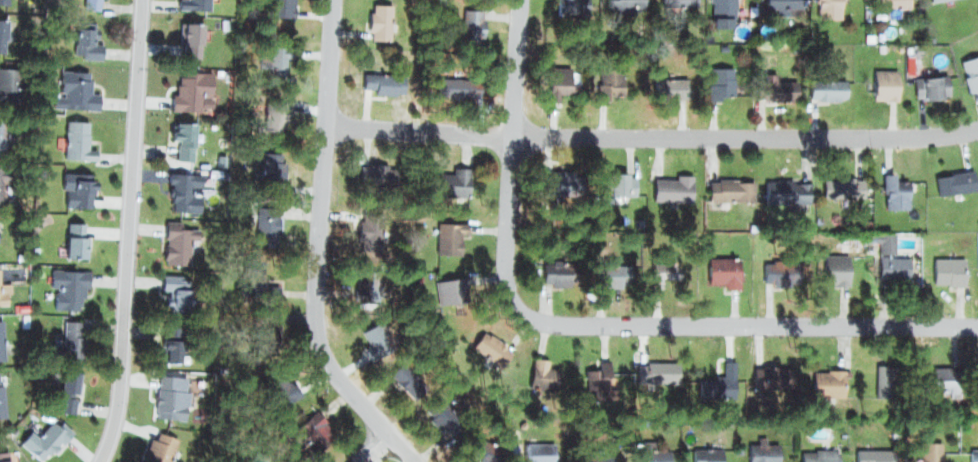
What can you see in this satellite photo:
building: (932, 0)
building: (4, 1)
building: (780, 1)
building: (887, 2)
building: (91, 3)
building: (679, 3)
building: (572, 4)
building: (626, 4)
building: (193, 5)
building: (277, 6)
building: (824, 7)
building: (726, 8)
building: (379, 17)
building: (471, 26)
building: (4, 33)
building: (191, 40)
building: (87, 47)
building: (272, 57)
building: (966, 63)
building: (609, 65)
building: (563, 66)
building: (381, 74)
building: (719, 75)
building: (769, 77)
building: (455, 79)
building: (884, 80)
building: (674, 81)
building: (824, 81)
building: (384, 84)
building: (612, 84)
building: (6, 85)
building: (934, 85)
building: (459, 88)
building: (189, 89)
building: (829, 90)
building: (80, 91)
building: (778, 91)
building: (274, 113)
building: (0, 126)
road: (653, 137)
building: (78, 141)
building: (185, 141)
building: (0, 173)
building: (270, 173)
building: (374, 174)
building: (557, 174)
building: (621, 176)
building: (668, 179)
building: (951, 180)
building: (723, 181)
building: (456, 183)
building: (565, 183)
building: (783, 185)
building: (844, 186)
building: (891, 189)
building: (77, 190)
building: (185, 190)
building: (732, 192)
building: (267, 224)
building: (369, 226)
road: (128, 232)
building: (453, 236)
building: (82, 239)
building: (179, 242)
road: (320, 248)
building: (889, 253)
building: (673, 258)
building: (833, 258)
building: (724, 259)
building: (783, 262)
building: (948, 262)
building: (555, 263)
building: (613, 263)
building: (663, 268)
building: (837, 271)
building: (561, 274)
building: (613, 277)
building: (257, 279)
building: (365, 285)
building: (450, 289)
building: (70, 291)
building: (176, 294)
building: (4, 295)
building: (269, 324)
road: (592, 324)
building: (68, 341)
building: (374, 342)
building: (174, 343)
building: (1, 344)
building: (490, 346)
building: (659, 372)
building: (596, 378)
building: (543, 379)
building: (404, 380)
building: (947, 380)
building: (771, 381)
building: (828, 381)
building: (884, 381)
building: (973, 382)
building: (719, 384)
building: (278, 386)
building: (72, 393)
building: (1, 397)
building: (172, 400)
building: (442, 416)
building: (312, 428)
building: (43, 440)
building: (164, 447)
road: (372, 448)
building: (482, 449)
building: (763, 449)
building: (540, 452)
building: (930, 453)
building: (597, 454)
building: (709, 454)
building: (652, 455)
building: (874, 455)
building: (974, 455)
building: (264, 456)
building: (822, 456)
building: (3, 457)

